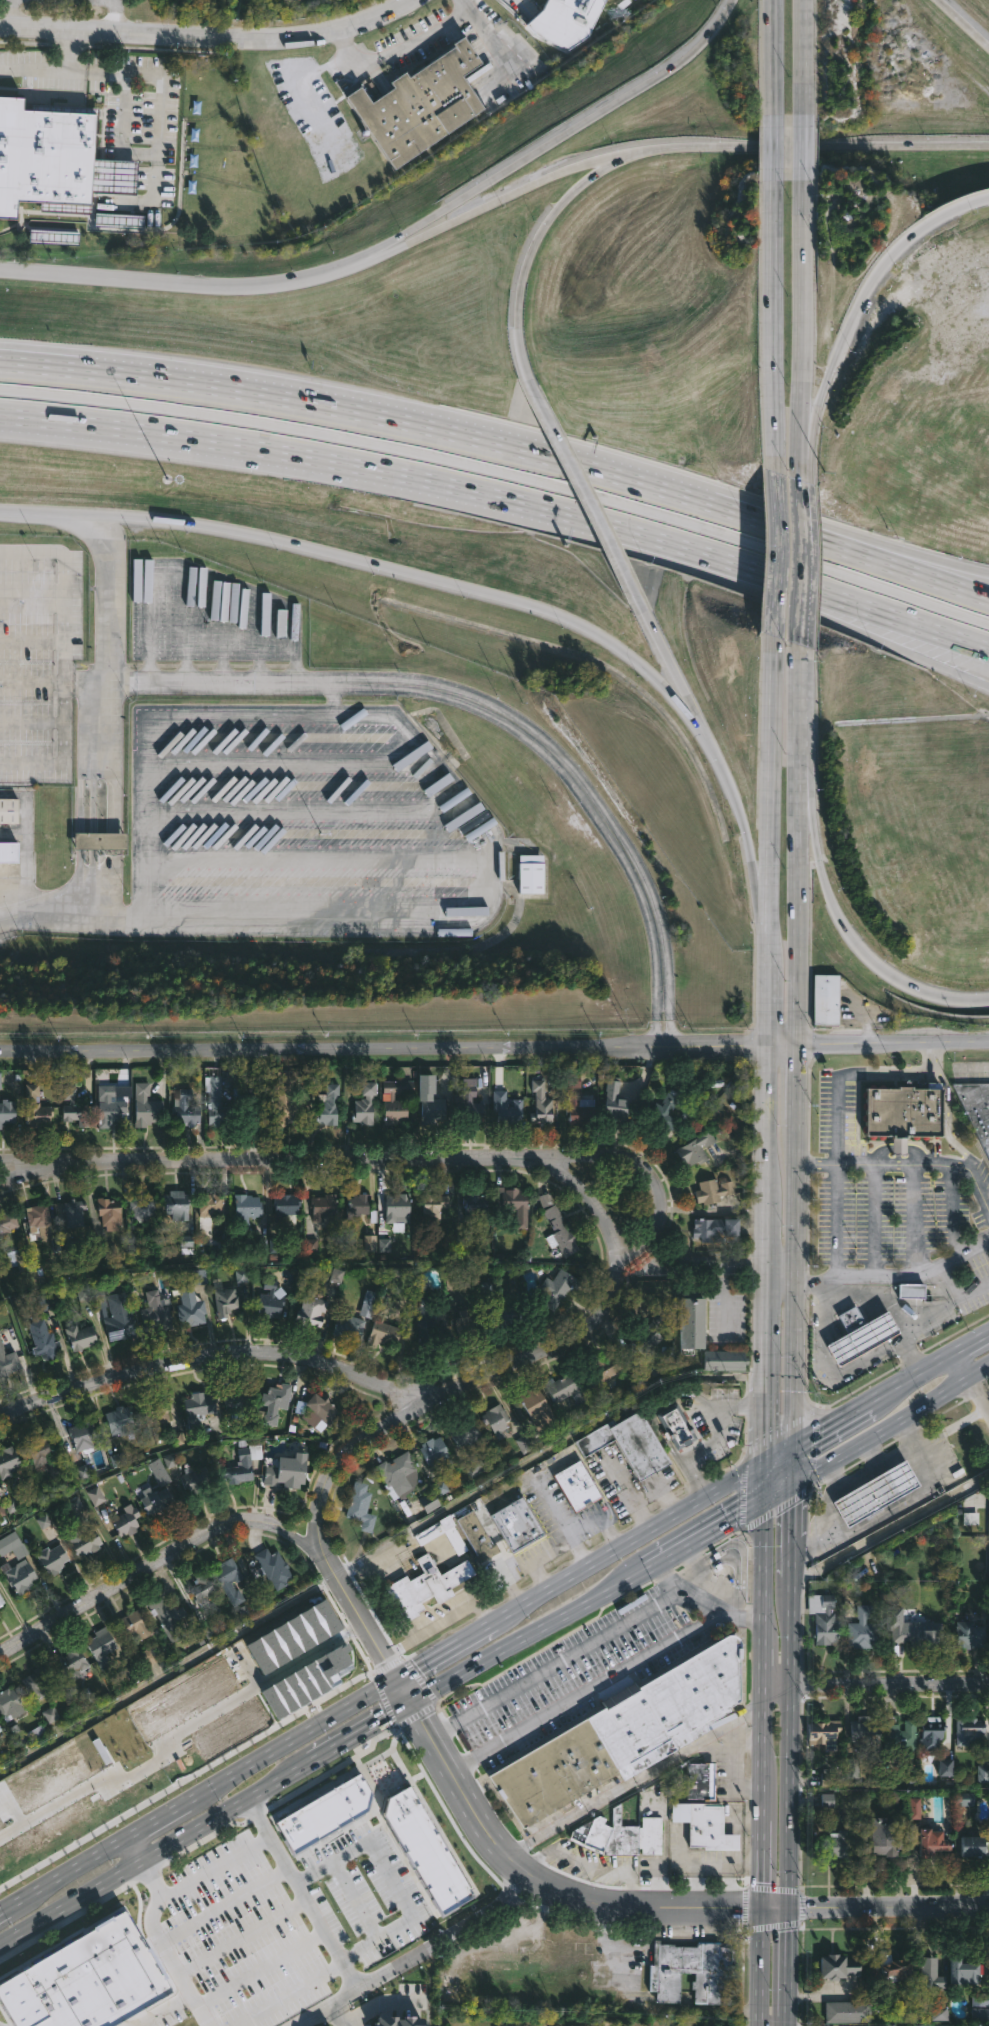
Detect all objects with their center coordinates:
building: (577, 5)
road: (12, 13)
road: (112, 16)
road: (963, 23)
road: (209, 36)
road: (401, 44)
road: (66, 51)
road: (797, 52)
road: (773, 54)
road: (116, 73)
building: (418, 103)
road: (796, 140)
road: (547, 142)
road: (772, 142)
road: (806, 145)
building: (41, 155)
road: (512, 193)
road: (377, 254)
road: (525, 258)
road: (881, 263)
road: (175, 283)
road: (797, 308)
road: (771, 326)
building: (25, 392)
road: (326, 406)
road: (812, 409)
road: (262, 449)
road: (799, 456)
road: (502, 473)
road: (683, 486)
road: (585, 497)
road: (44, 511)
road: (561, 521)
road: (853, 532)
road: (817, 541)
road: (772, 547)
road: (799, 552)
road: (757, 569)
road: (414, 575)
road: (796, 607)
road: (111, 620)
road: (651, 630)
road: (31, 641)
road: (62, 657)
road: (31, 682)
road: (684, 696)
road: (477, 705)
road: (798, 715)
road: (90, 758)
road: (448, 776)
road: (117, 788)
road: (773, 793)
building: (9, 812)
road: (808, 831)
road: (80, 843)
building: (98, 843)
road: (116, 843)
building: (9, 854)
road: (751, 854)
building: (533, 875)
road: (109, 882)
road: (93, 911)
road: (14, 916)
road: (797, 921)
road: (877, 965)
building: (826, 998)
road: (772, 1006)
road: (865, 1019)
road: (654, 1023)
road: (670, 1023)
road: (892, 1043)
road: (783, 1044)
road: (385, 1049)
road: (852, 1074)
road: (795, 1081)
building: (396, 1100)
building: (287, 1101)
building: (470, 1101)
building: (217, 1102)
building: (430, 1103)
building: (542, 1103)
building: (328, 1104)
building: (365, 1104)
building: (615, 1105)
building: (146, 1106)
building: (34, 1107)
building: (74, 1107)
building: (107, 1107)
building: (977, 1107)
building: (7, 1109)
building: (187, 1109)
building: (505, 1109)
building: (579, 1109)
building: (662, 1112)
building: (906, 1112)
road: (947, 1118)
road: (769, 1119)
building: (696, 1148)
road: (382, 1159)
road: (26, 1161)
road: (905, 1163)
building: (713, 1191)
road: (587, 1196)
building: (511, 1198)
building: (177, 1204)
building: (211, 1204)
building: (476, 1204)
building: (358, 1206)
building: (287, 1207)
building: (324, 1207)
building: (433, 1208)
building: (144, 1209)
building: (398, 1210)
building: (247, 1211)
building: (110, 1212)
building: (74, 1213)
road: (835, 1220)
building: (37, 1222)
building: (7, 1223)
building: (716, 1229)
building: (560, 1232)
road: (768, 1249)
building: (19, 1253)
road: (726, 1261)
road: (306, 1265)
road: (893, 1274)
road: (793, 1282)
building: (558, 1287)
building: (912, 1290)
road: (725, 1298)
building: (226, 1301)
building: (271, 1301)
building: (369, 1303)
building: (191, 1308)
building: (312, 1310)
building: (511, 1313)
building: (156, 1314)
building: (659, 1316)
building: (120, 1318)
road: (928, 1319)
building: (694, 1322)
building: (467, 1323)
building: (429, 1324)
building: (350, 1328)
building: (384, 1328)
building: (863, 1336)
building: (81, 1337)
building: (43, 1339)
road: (766, 1339)
building: (648, 1340)
road: (972, 1341)
building: (726, 1359)
road: (215, 1360)
building: (8, 1362)
road: (831, 1370)
building: (605, 1372)
road: (911, 1375)
road: (971, 1382)
road: (986, 1387)
building: (566, 1388)
road: (455, 1390)
road: (974, 1393)
building: (237, 1398)
building: (276, 1400)
building: (539, 1407)
building: (199, 1409)
building: (320, 1410)
road: (765, 1418)
building: (120, 1420)
building: (497, 1420)
building: (159, 1422)
road: (830, 1424)
road: (890, 1425)
building: (678, 1426)
road: (780, 1428)
building: (466, 1433)
building: (84, 1436)
road: (711, 1440)
building: (631, 1443)
road: (887, 1443)
traffic signals: (792, 1447)
road: (813, 1447)
road: (542, 1450)
building: (435, 1451)
building: (44, 1454)
road: (778, 1456)
building: (9, 1462)
road: (792, 1464)
building: (241, 1465)
traffic signals: (765, 1465)
building: (286, 1472)
building: (398, 1475)
building: (197, 1478)
road: (765, 1481)
road: (624, 1482)
traffic signals: (793, 1482)
building: (579, 1486)
road: (779, 1489)
road: (741, 1492)
building: (877, 1494)
road: (645, 1496)
traffic signals: (765, 1497)
building: (156, 1500)
building: (363, 1502)
road: (774, 1510)
road: (791, 1510)
road: (879, 1515)
building: (126, 1521)
building: (518, 1524)
road: (291, 1531)
road: (706, 1531)
building: (476, 1533)
road: (809, 1539)
building: (83, 1541)
road: (630, 1542)
building: (13, 1545)
road: (789, 1558)
building: (52, 1559)
road: (763, 1567)
building: (273, 1568)
road: (696, 1568)
building: (435, 1570)
building: (20, 1576)
road: (128, 1576)
building: (229, 1580)
building: (201, 1589)
road: (683, 1590)
building: (1, 1601)
road: (353, 1609)
building: (169, 1619)
building: (824, 1619)
building: (135, 1626)
building: (864, 1629)
road: (789, 1631)
building: (920, 1633)
building: (971, 1634)
road: (529, 1635)
building: (102, 1647)
road: (445, 1648)
road: (762, 1662)
road: (555, 1663)
building: (71, 1664)
road: (166, 1675)
traffic signals: (395, 1677)
building: (41, 1683)
road: (602, 1683)
road: (889, 1685)
road: (775, 1686)
road: (402, 1691)
building: (11, 1703)
traffic signals: (410, 1705)
road: (735, 1729)
building: (970, 1731)
building: (628, 1733)
building: (823, 1733)
road: (361, 1734)
building: (933, 1734)
road: (294, 1737)
building: (867, 1737)
building: (901, 1740)
road: (762, 1753)
road: (735, 1761)
road: (634, 1781)
building: (702, 1781)
road: (788, 1798)
road: (162, 1815)
building: (329, 1818)
building: (705, 1825)
building: (882, 1834)
building: (621, 1836)
building: (929, 1838)
building: (837, 1843)
building: (974, 1845)
road: (138, 1848)
building: (429, 1854)
road: (156, 1855)
road: (752, 1865)
road: (764, 1865)
road: (214, 1867)
road: (732, 1868)
road: (70, 1870)
road: (394, 1880)
road: (542, 1884)
road: (727, 1888)
road: (307, 1896)
road: (356, 1900)
road: (224, 1903)
road: (5, 1909)
traffic signals: (765, 1910)
road: (776, 1910)
road: (888, 1910)
traffic signals: (788, 1911)
road: (243, 1935)
road: (604, 1941)
road: (163, 1947)
road: (425, 1960)
building: (839, 1964)
road: (788, 1966)
road: (262, 1967)
road: (763, 1967)
building: (964, 1968)
building: (899, 1969)
building: (692, 1970)
building: (931, 1972)
building: (91, 1983)
road: (288, 1993)
road: (650, 2005)
road: (164, 2010)
building: (849, 2010)
road: (342, 2018)
park: (555, 2020)
road: (775, 2022)
road: (789, 2024)

